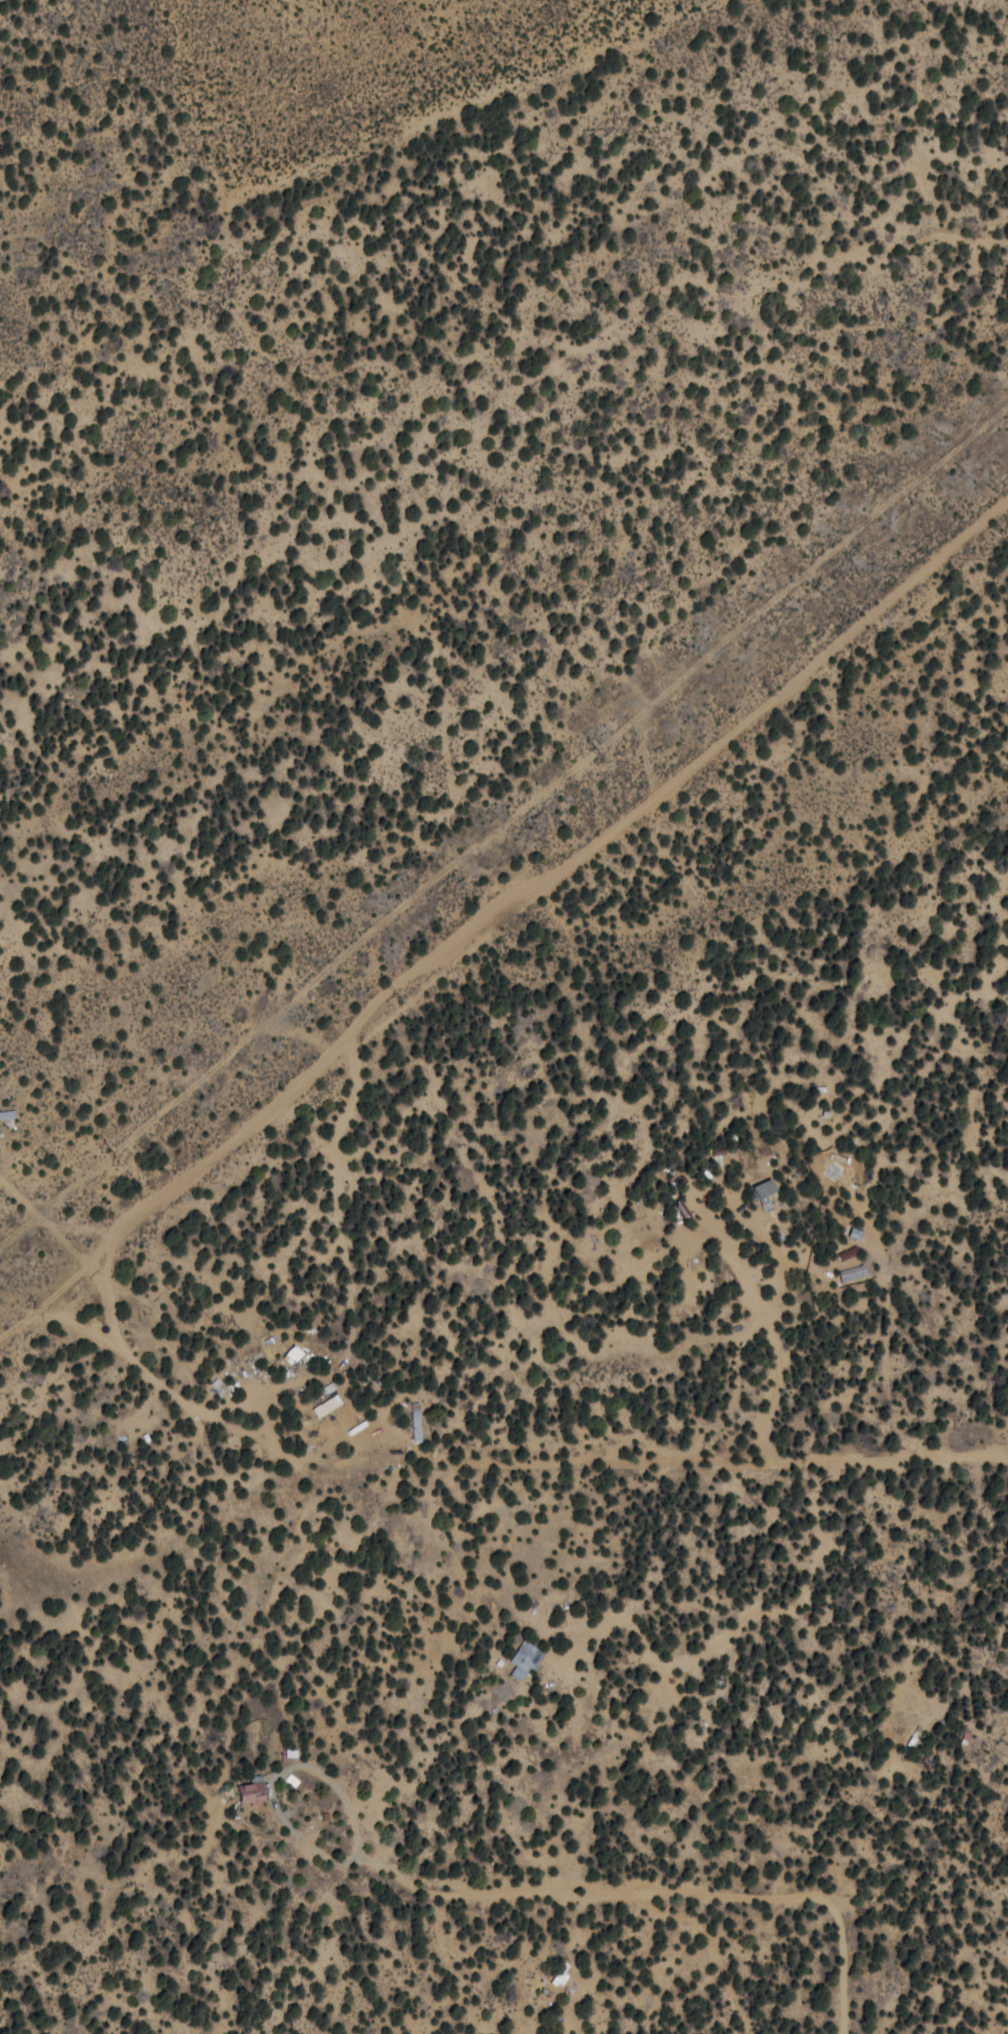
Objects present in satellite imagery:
power tower: (589, 756)
road: (504, 848)
power tower: (393, 998)
building: (7, 1113)
power tower: (104, 1158)
building: (764, 1191)
building: (683, 1207)
building: (848, 1252)
power tower: (37, 1301)
building: (292, 1354)
building: (328, 1400)
building: (416, 1421)
building: (525, 1658)
building: (252, 1790)
road: (787, 1859)
road: (828, 1951)
building: (561, 1973)

